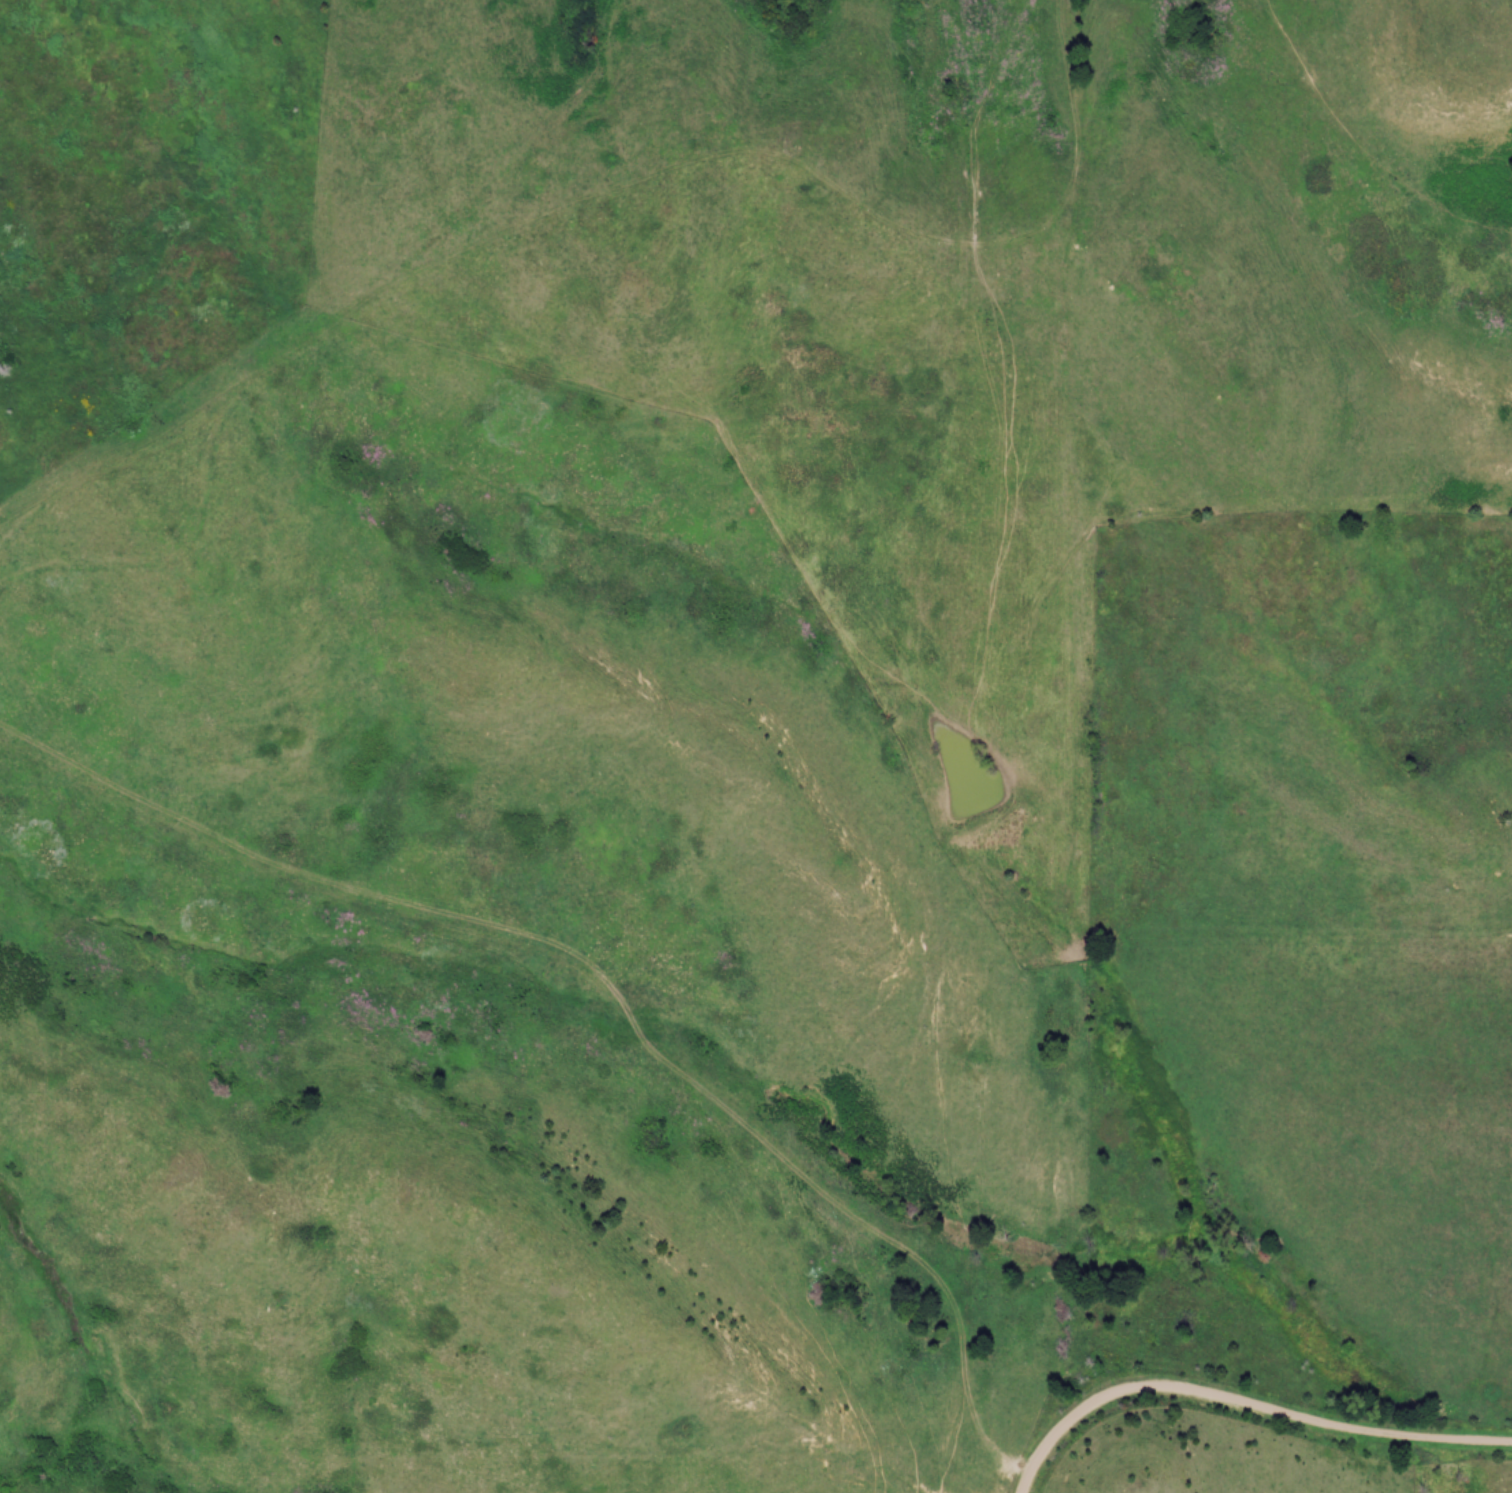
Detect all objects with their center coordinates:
road: (1282, 1417)
road: (1043, 1461)

